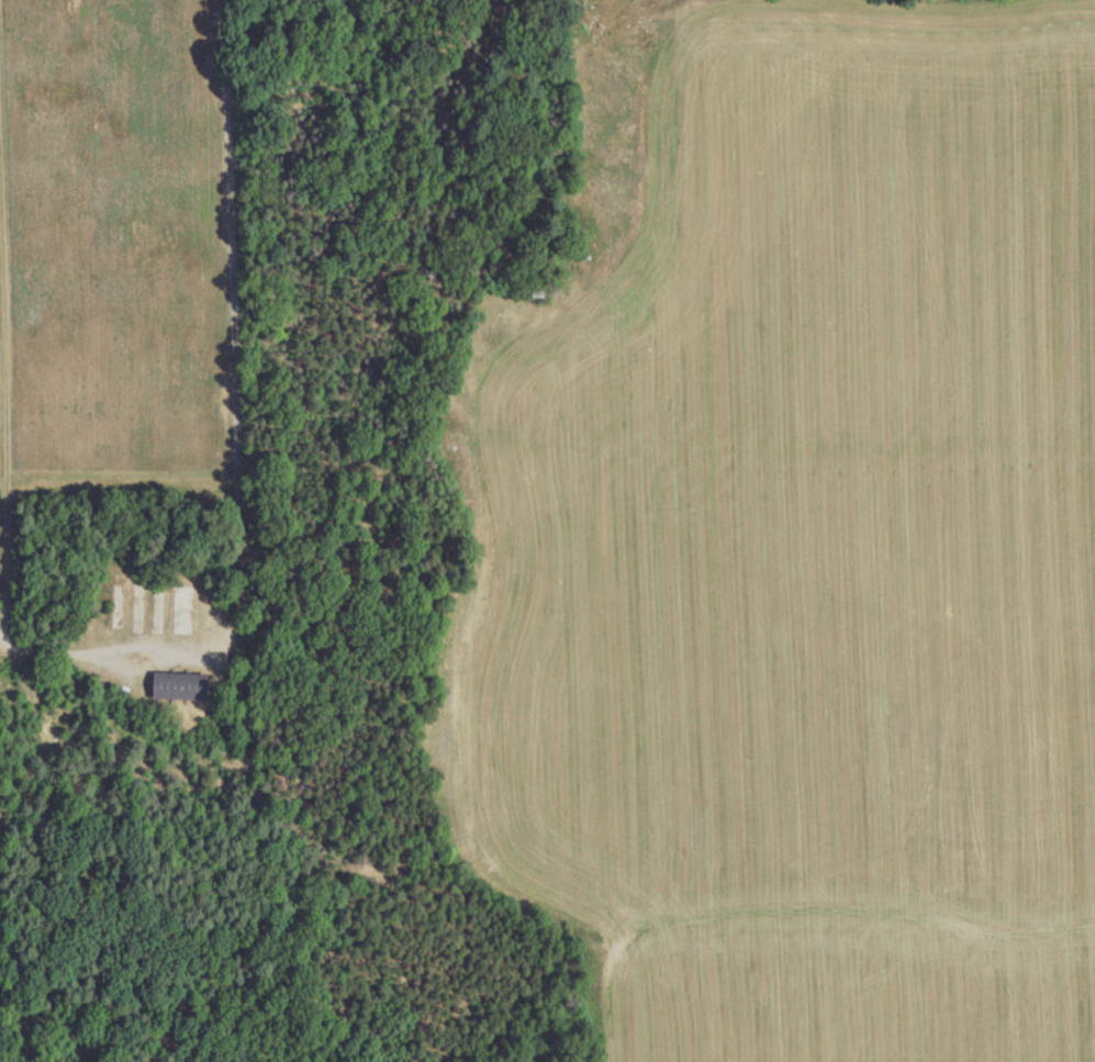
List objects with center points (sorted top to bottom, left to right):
road: (49, 649)
building: (175, 686)

